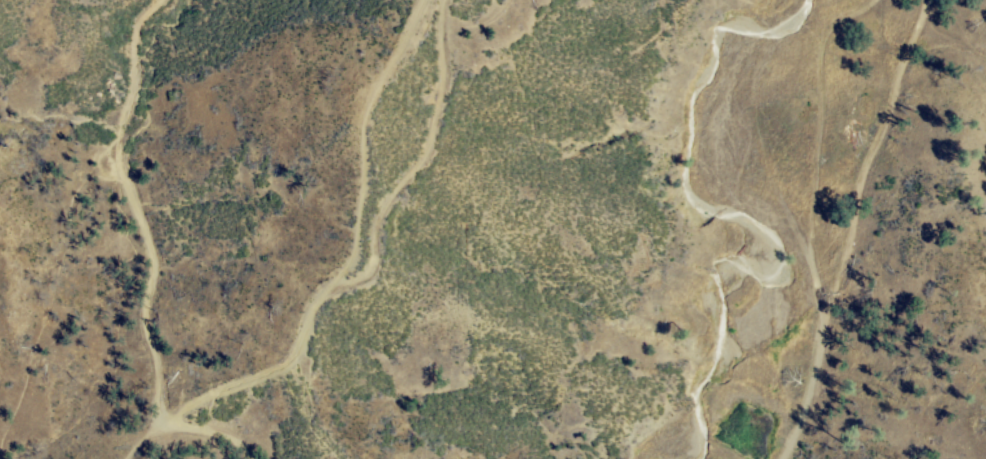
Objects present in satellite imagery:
road: (854, 229)

